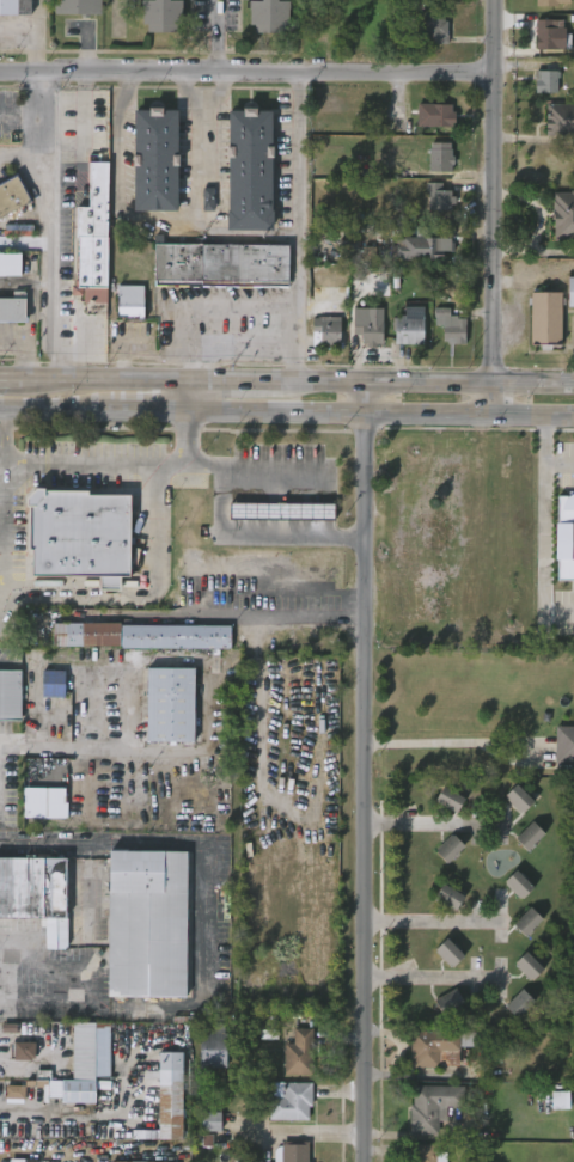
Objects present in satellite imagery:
building: (548, 1)
building: (78, 6)
building: (13, 7)
building: (161, 16)
building: (269, 16)
building: (433, 27)
road: (32, 35)
road: (214, 35)
building: (549, 36)
road: (245, 71)
building: (546, 80)
road: (84, 81)
road: (182, 90)
road: (16, 112)
building: (436, 114)
building: (560, 118)
road: (30, 126)
road: (81, 129)
road: (116, 135)
building: (439, 157)
building: (155, 160)
road: (41, 161)
building: (250, 172)
road: (197, 175)
building: (10, 195)
building: (436, 197)
building: (208, 198)
road: (494, 207)
building: (563, 214)
road: (53, 226)
road: (295, 227)
building: (93, 236)
building: (420, 245)
building: (10, 264)
building: (221, 264)
building: (569, 292)
road: (30, 298)
building: (128, 302)
building: (11, 308)
road: (41, 316)
building: (543, 318)
building: (408, 326)
building: (450, 326)
building: (366, 331)
building: (325, 332)
road: (14, 336)
road: (222, 341)
road: (29, 359)
road: (7, 380)
road: (294, 384)
road: (187, 397)
road: (59, 410)
road: (152, 411)
road: (380, 414)
building: (564, 460)
road: (92, 463)
road: (270, 477)
building: (281, 509)
road: (542, 527)
building: (78, 532)
road: (215, 533)
building: (564, 537)
road: (48, 599)
road: (1, 601)
road: (271, 622)
building: (136, 635)
road: (6, 661)
building: (50, 683)
building: (11, 696)
building: (170, 704)
road: (257, 704)
road: (452, 742)
building: (564, 745)
road: (61, 748)
road: (366, 772)
building: (519, 799)
building: (450, 800)
building: (44, 802)
road: (421, 820)
building: (530, 836)
road: (47, 845)
building: (450, 848)
building: (518, 885)
building: (37, 895)
building: (448, 898)
road: (430, 918)
building: (527, 922)
building: (147, 924)
building: (448, 953)
building: (529, 966)
road: (434, 974)
road: (203, 978)
building: (450, 1003)
building: (519, 1003)
building: (214, 1046)
building: (440, 1046)
building: (24, 1051)
building: (297, 1053)
building: (85, 1062)
building: (14, 1091)
building: (167, 1099)
building: (289, 1099)
building: (560, 1100)
building: (432, 1106)
road: (69, 1117)
building: (212, 1121)
building: (289, 1151)
building: (425, 1154)
building: (23, 1158)
building: (143, 1161)

